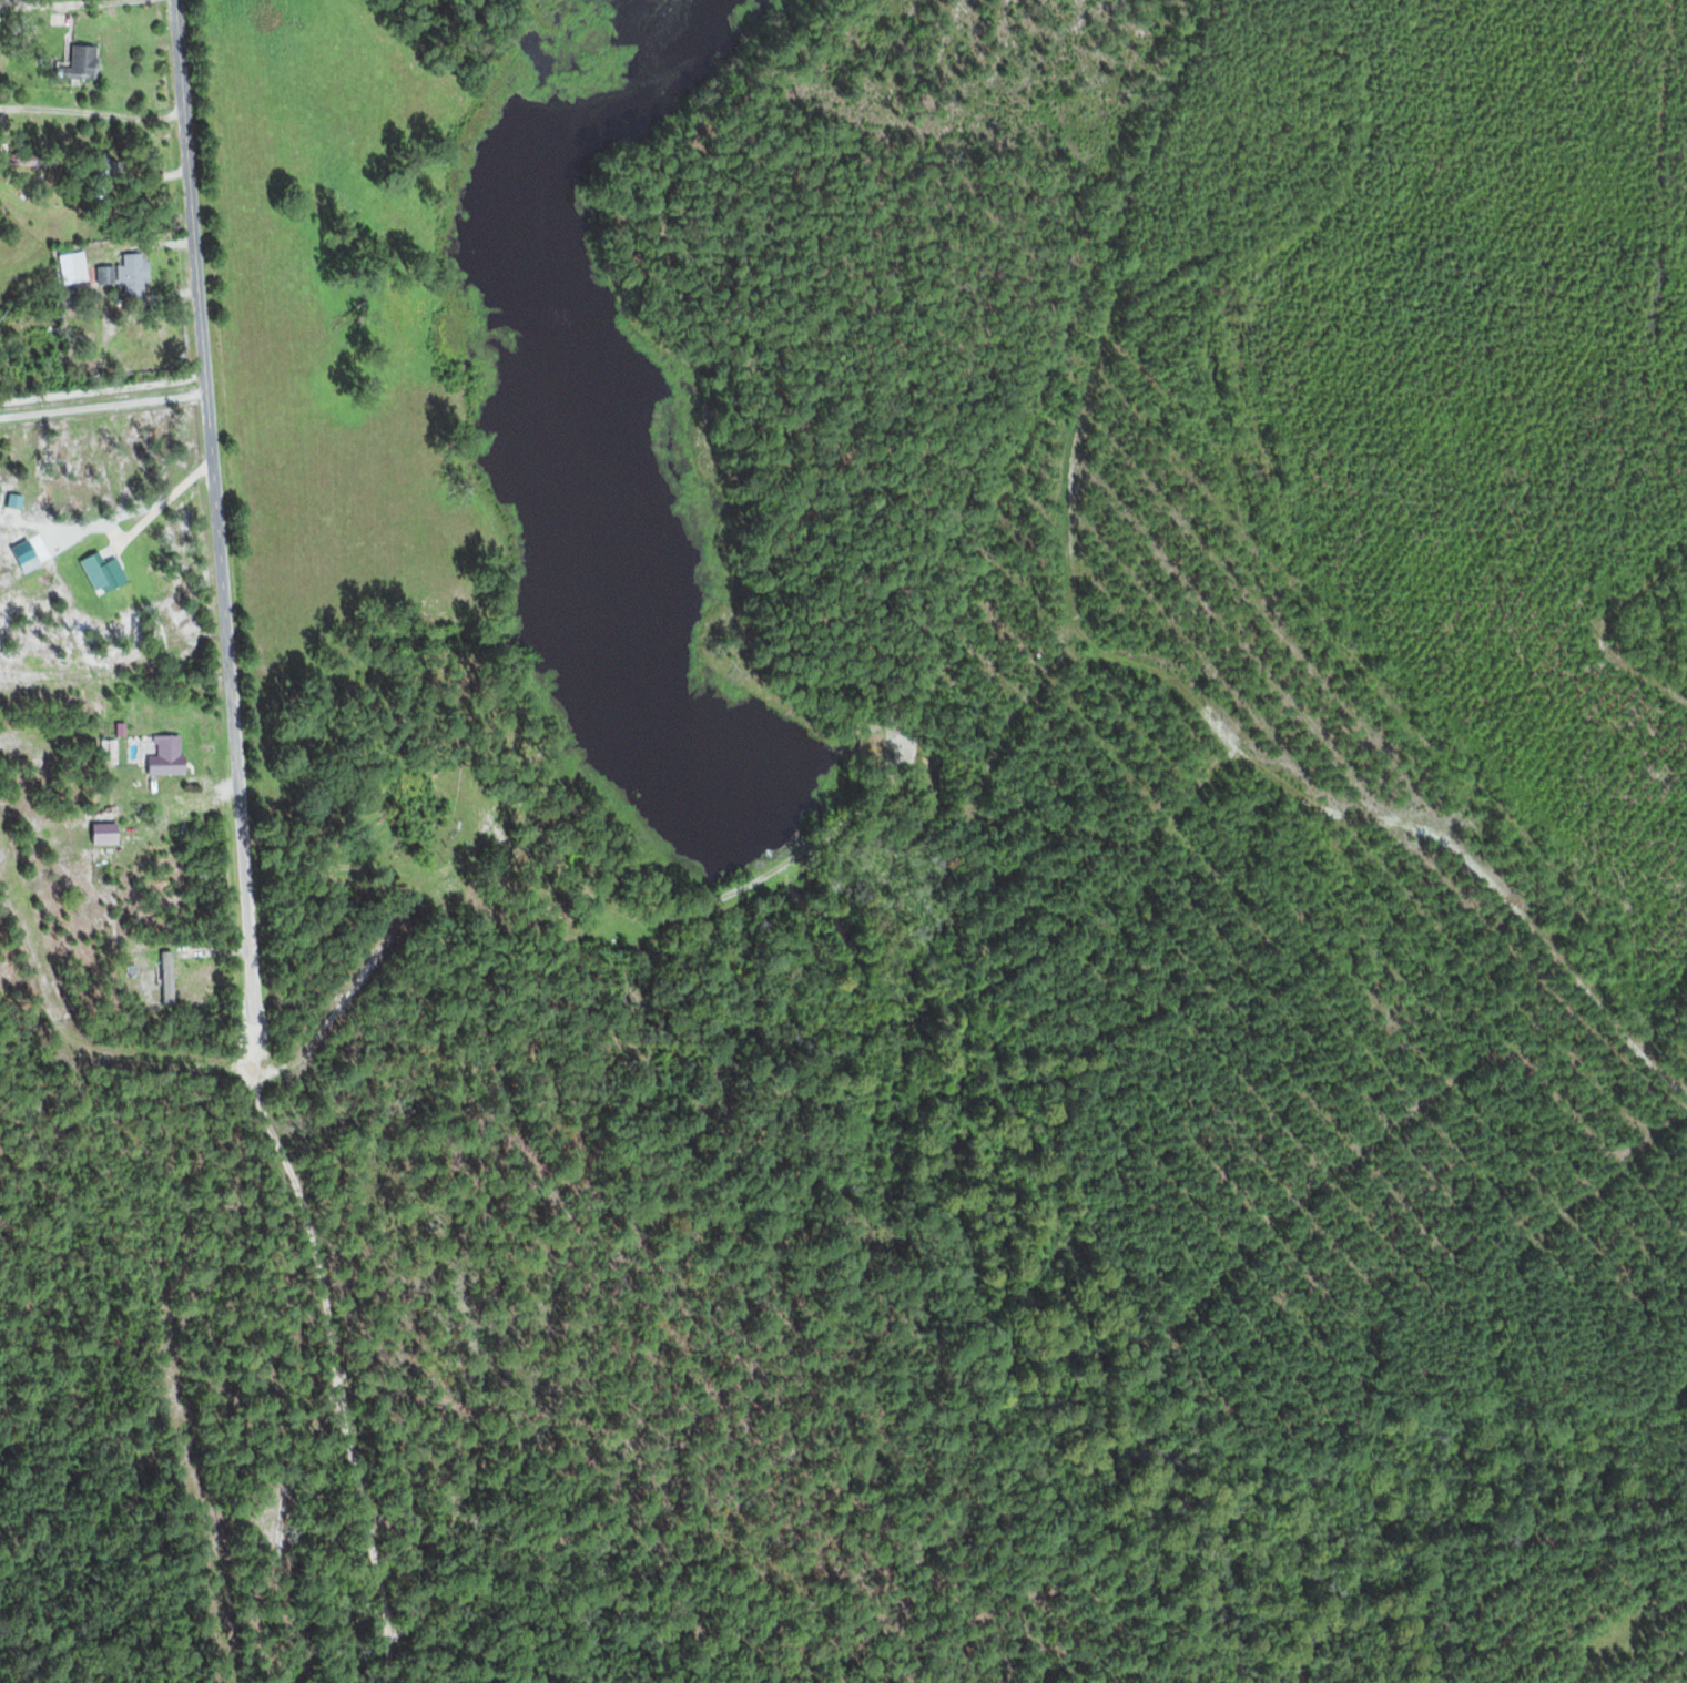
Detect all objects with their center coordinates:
building: (85, 61)
building: (74, 267)
building: (126, 271)
road: (224, 478)
building: (170, 754)
building: (419, 816)
building: (169, 983)

